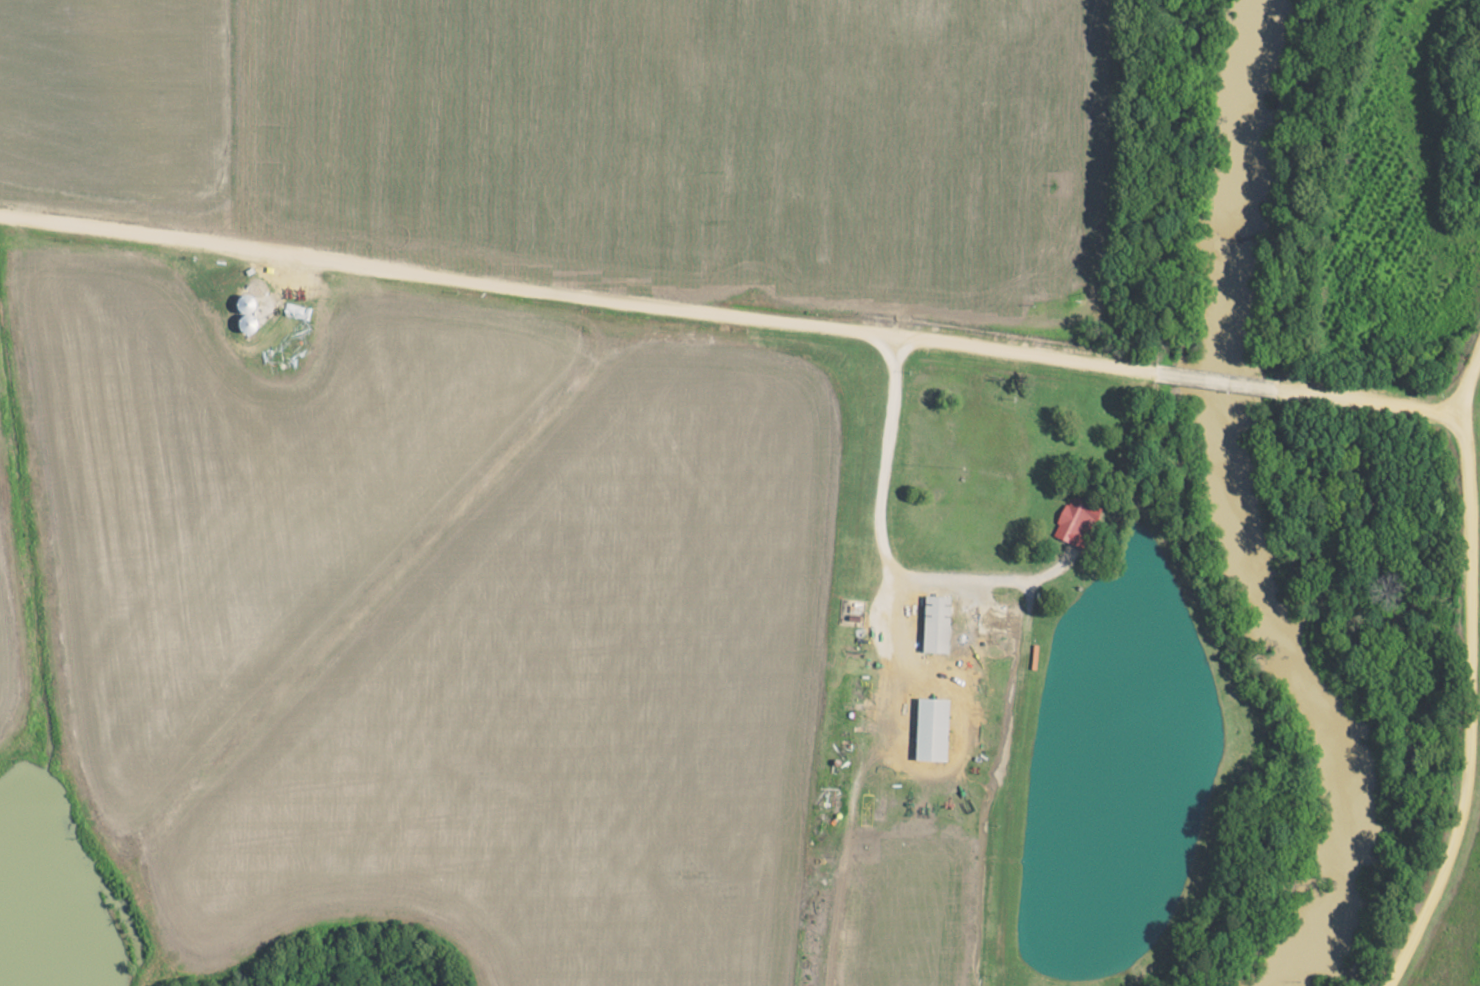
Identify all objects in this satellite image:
road: (575, 295)
building: (245, 303)
building: (1167, 375)
road: (1213, 379)
road: (1369, 401)
river: (1237, 510)
building: (1075, 519)
road: (886, 552)
building: (932, 624)
road: (1469, 677)
building: (928, 730)
building: (815, 857)

